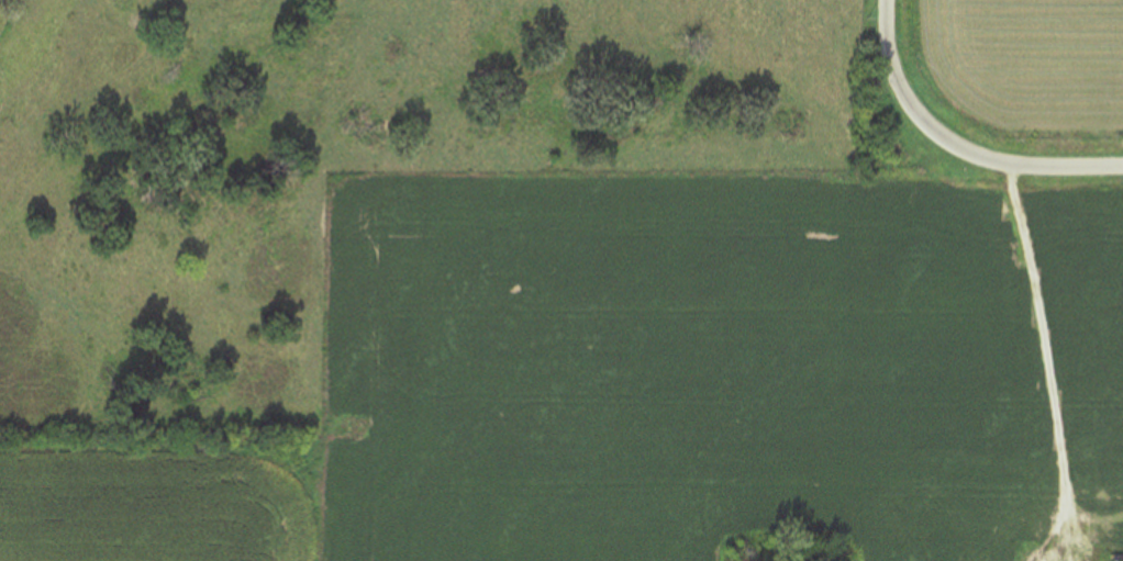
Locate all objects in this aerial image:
road: (957, 139)

